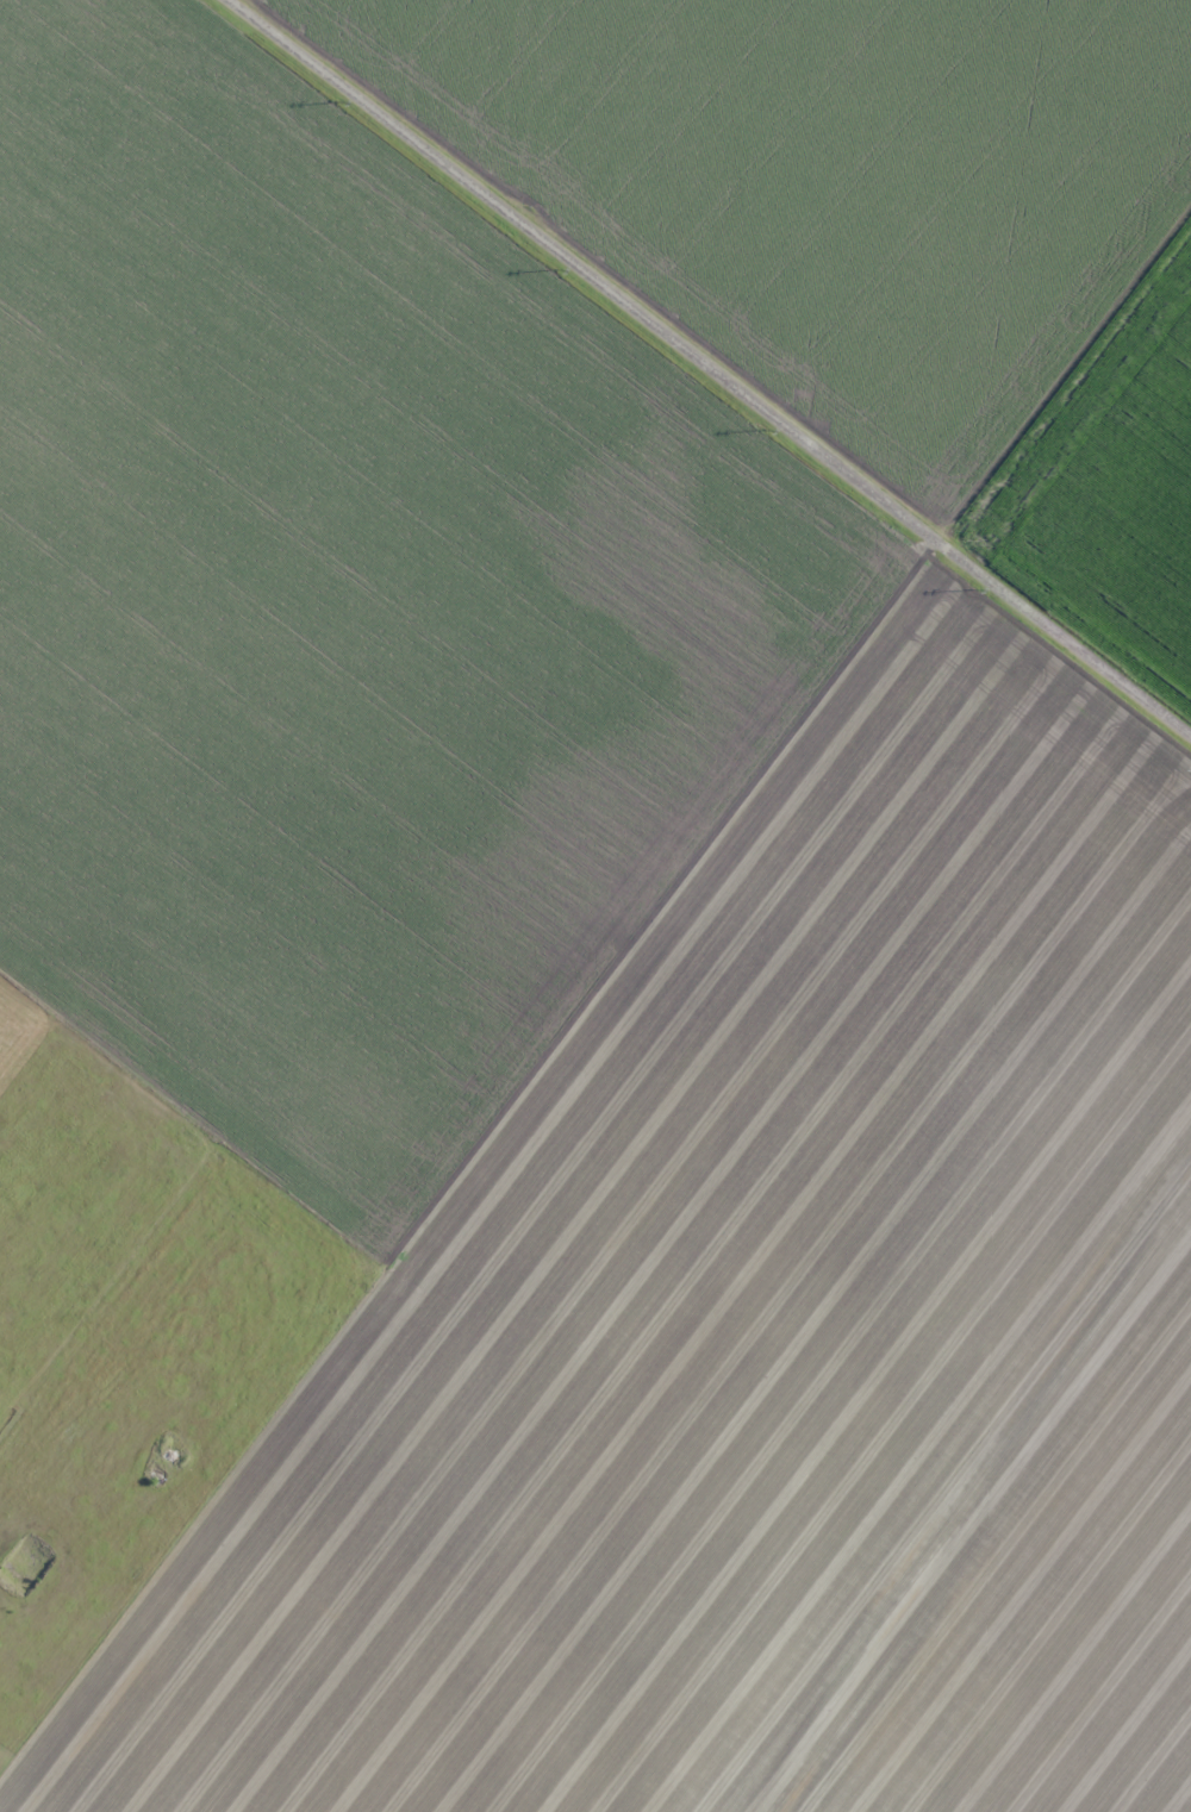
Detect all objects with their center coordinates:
road: (721, 362)

